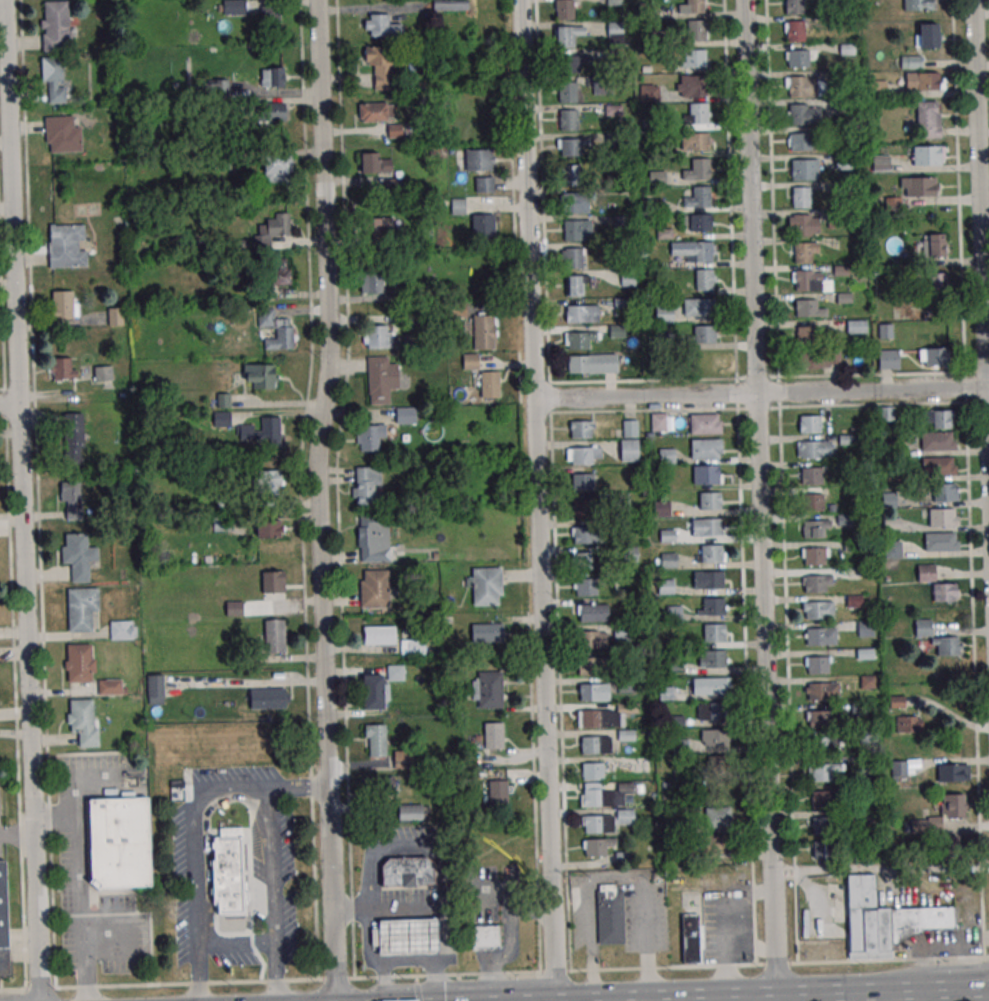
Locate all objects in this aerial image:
building: (450, 5)
building: (920, 5)
building: (694, 6)
building: (234, 7)
building: (794, 7)
building: (564, 10)
building: (270, 16)
building: (56, 25)
building: (381, 25)
building: (695, 30)
building: (615, 32)
building: (794, 32)
building: (928, 35)
building: (564, 37)
building: (694, 58)
building: (797, 59)
building: (911, 61)
building: (570, 64)
building: (380, 66)
building: (274, 76)
building: (54, 79)
building: (923, 81)
building: (690, 85)
building: (801, 87)
building: (567, 92)
building: (650, 93)
building: (274, 111)
building: (377, 112)
building: (697, 113)
building: (798, 115)
building: (928, 120)
building: (568, 121)
building: (63, 134)
building: (695, 141)
building: (799, 142)
building: (573, 147)
building: (927, 155)
building: (479, 160)
building: (880, 162)
building: (375, 163)
building: (278, 168)
building: (699, 169)
building: (800, 170)
building: (570, 176)
building: (657, 177)
building: (484, 184)
building: (918, 186)
road: (981, 192)
building: (701, 196)
building: (800, 197)
building: (575, 202)
building: (697, 222)
building: (801, 225)
building: (385, 226)
building: (483, 227)
building: (271, 230)
building: (572, 231)
building: (67, 245)
building: (933, 245)
building: (702, 251)
building: (802, 253)
building: (573, 258)
building: (277, 275)
building: (703, 279)
building: (803, 280)
building: (936, 282)
building: (372, 283)
building: (573, 286)
building: (64, 304)
building: (621, 306)
building: (697, 307)
building: (805, 308)
building: (584, 313)
building: (664, 313)
building: (115, 316)
building: (856, 326)
building: (276, 329)
building: (484, 331)
building: (703, 334)
building: (806, 335)
building: (377, 336)
building: (580, 339)
building: (933, 356)
building: (819, 358)
building: (888, 359)
building: (592, 363)
building: (62, 368)
building: (103, 373)
building: (259, 375)
building: (381, 379)
building: (490, 384)
road: (761, 391)
road: (9, 404)
road: (757, 407)
building: (886, 413)
building: (406, 415)
building: (222, 419)
building: (937, 419)
building: (659, 422)
building: (704, 424)
building: (808, 424)
building: (271, 428)
building: (630, 428)
building: (580, 429)
building: (370, 437)
building: (73, 438)
building: (937, 441)
building: (704, 449)
building: (815, 449)
building: (629, 450)
building: (581, 455)
building: (667, 455)
building: (938, 466)
building: (706, 475)
building: (810, 476)
building: (583, 481)
road: (781, 481)
road: (738, 482)
building: (367, 485)
building: (267, 486)
building: (945, 492)
road: (22, 500)
building: (71, 500)
road: (319, 500)
road: (537, 500)
building: (708, 501)
building: (811, 503)
building: (582, 508)
building: (942, 517)
building: (269, 527)
building: (705, 527)
building: (812, 529)
building: (585, 535)
building: (374, 538)
building: (941, 541)
building: (710, 553)
building: (78, 555)
building: (813, 556)
building: (583, 560)
building: (668, 560)
building: (926, 572)
building: (711, 580)
building: (273, 582)
building: (816, 583)
building: (486, 586)
building: (666, 586)
building: (585, 587)
building: (375, 589)
building: (945, 592)
building: (713, 606)
building: (234, 608)
building: (80, 609)
building: (818, 610)
building: (592, 613)
building: (674, 613)
building: (123, 630)
building: (487, 632)
building: (621, 633)
building: (713, 633)
building: (380, 635)
building: (274, 636)
building: (820, 637)
building: (592, 639)
building: (938, 639)
building: (412, 646)
building: (713, 659)
building: (79, 662)
building: (591, 665)
building: (816, 665)
building: (110, 686)
building: (708, 686)
building: (155, 689)
building: (488, 689)
building: (817, 691)
building: (594, 692)
building: (269, 698)
building: (712, 712)
building: (602, 717)
building: (818, 720)
building: (83, 721)
building: (908, 724)
building: (493, 735)
building: (717, 738)
building: (375, 740)
building: (596, 744)
building: (819, 745)
building: (402, 759)
building: (717, 764)
building: (898, 768)
building: (591, 771)
building: (820, 772)
building: (952, 773)
road: (300, 786)
building: (385, 791)
building: (497, 791)
building: (604, 793)
building: (821, 800)
building: (952, 806)
building: (410, 812)
building: (718, 816)
building: (605, 821)
building: (822, 826)
road: (17, 834)
building: (118, 843)
building: (597, 846)
building: (720, 846)
building: (823, 850)
road: (192, 859)
road: (880, 868)
building: (227, 872)
building: (407, 872)
road: (79, 892)
road: (273, 894)
road: (774, 904)
road: (435, 909)
building: (608, 915)
building: (885, 920)
building: (3, 925)
building: (485, 937)
building: (406, 938)
building: (690, 938)
road: (235, 941)
road: (366, 960)
road: (407, 965)
road: (701, 966)
road: (207, 982)
road: (416, 988)
road: (883, 991)
road: (682, 998)
road: (769, 998)

